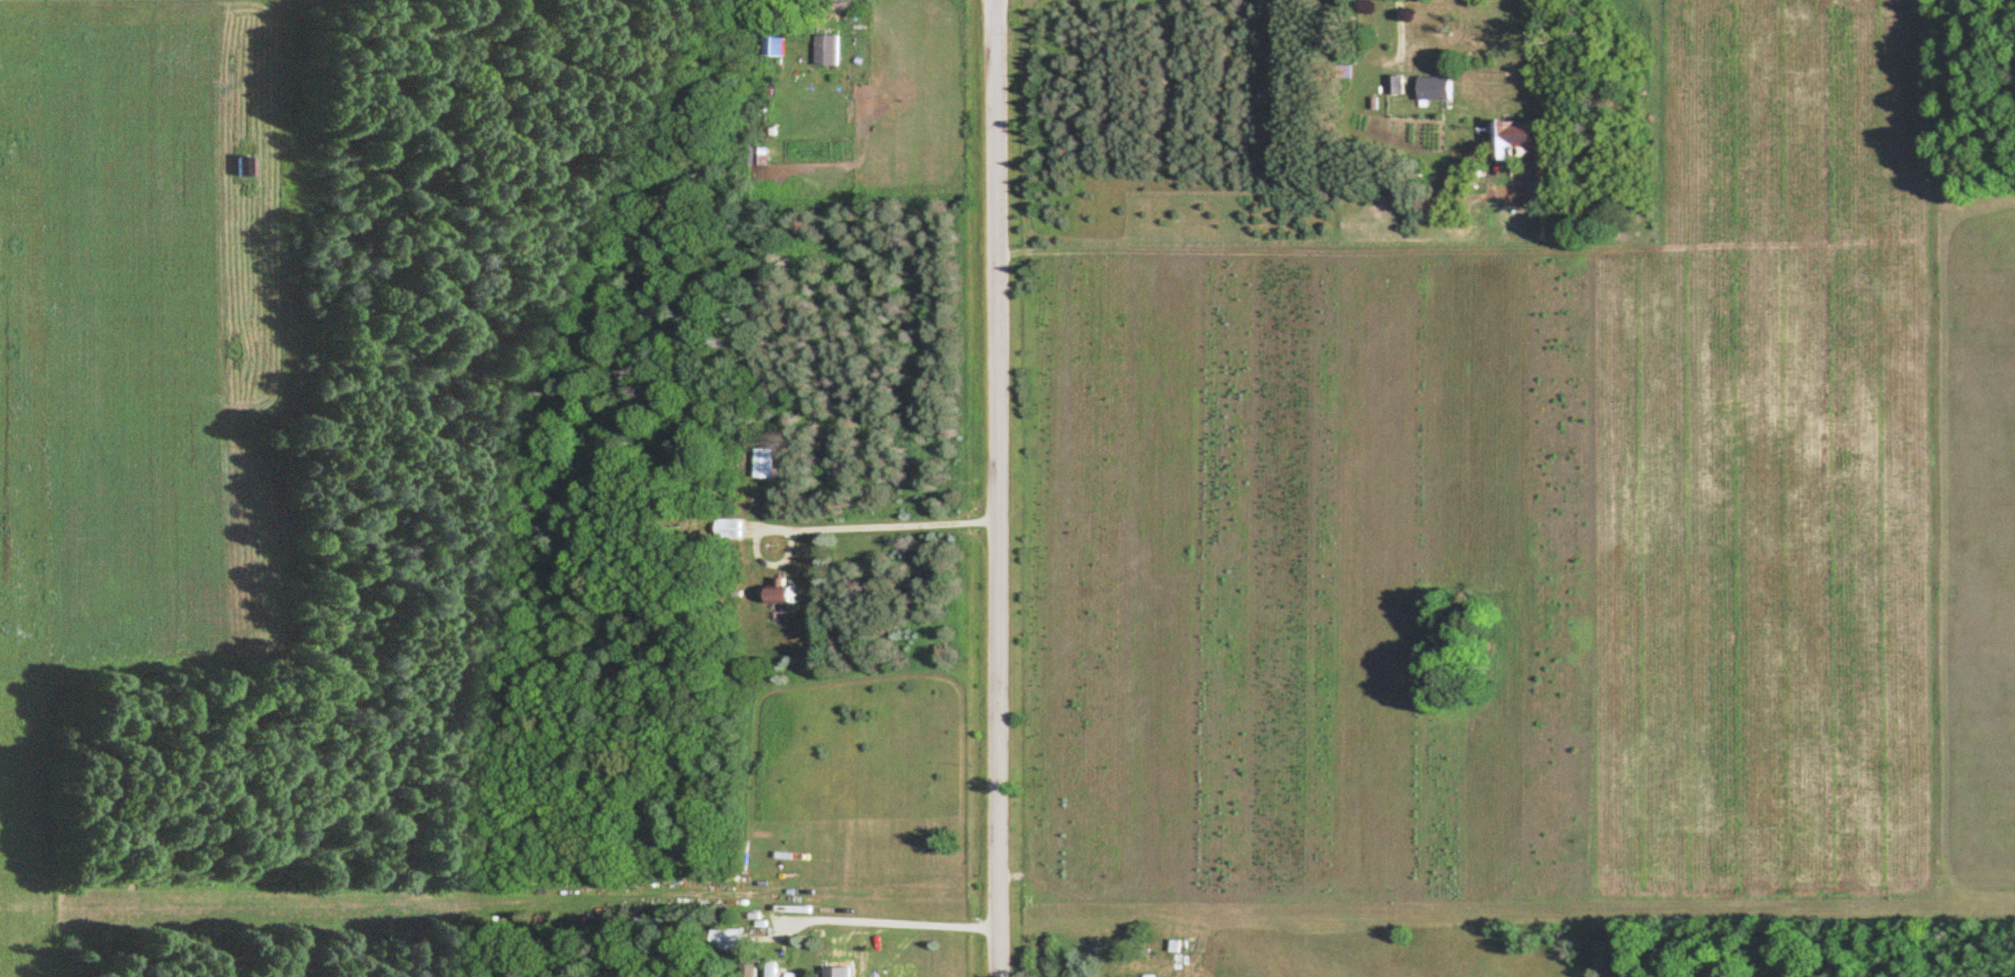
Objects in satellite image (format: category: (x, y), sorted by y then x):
building: (769, 44)
building: (824, 50)
building: (1392, 84)
building: (1509, 137)
building: (241, 166)
building: (759, 463)
road: (998, 488)
building: (724, 528)
building: (775, 595)
building: (721, 939)
building: (769, 971)
building: (1144, 976)

